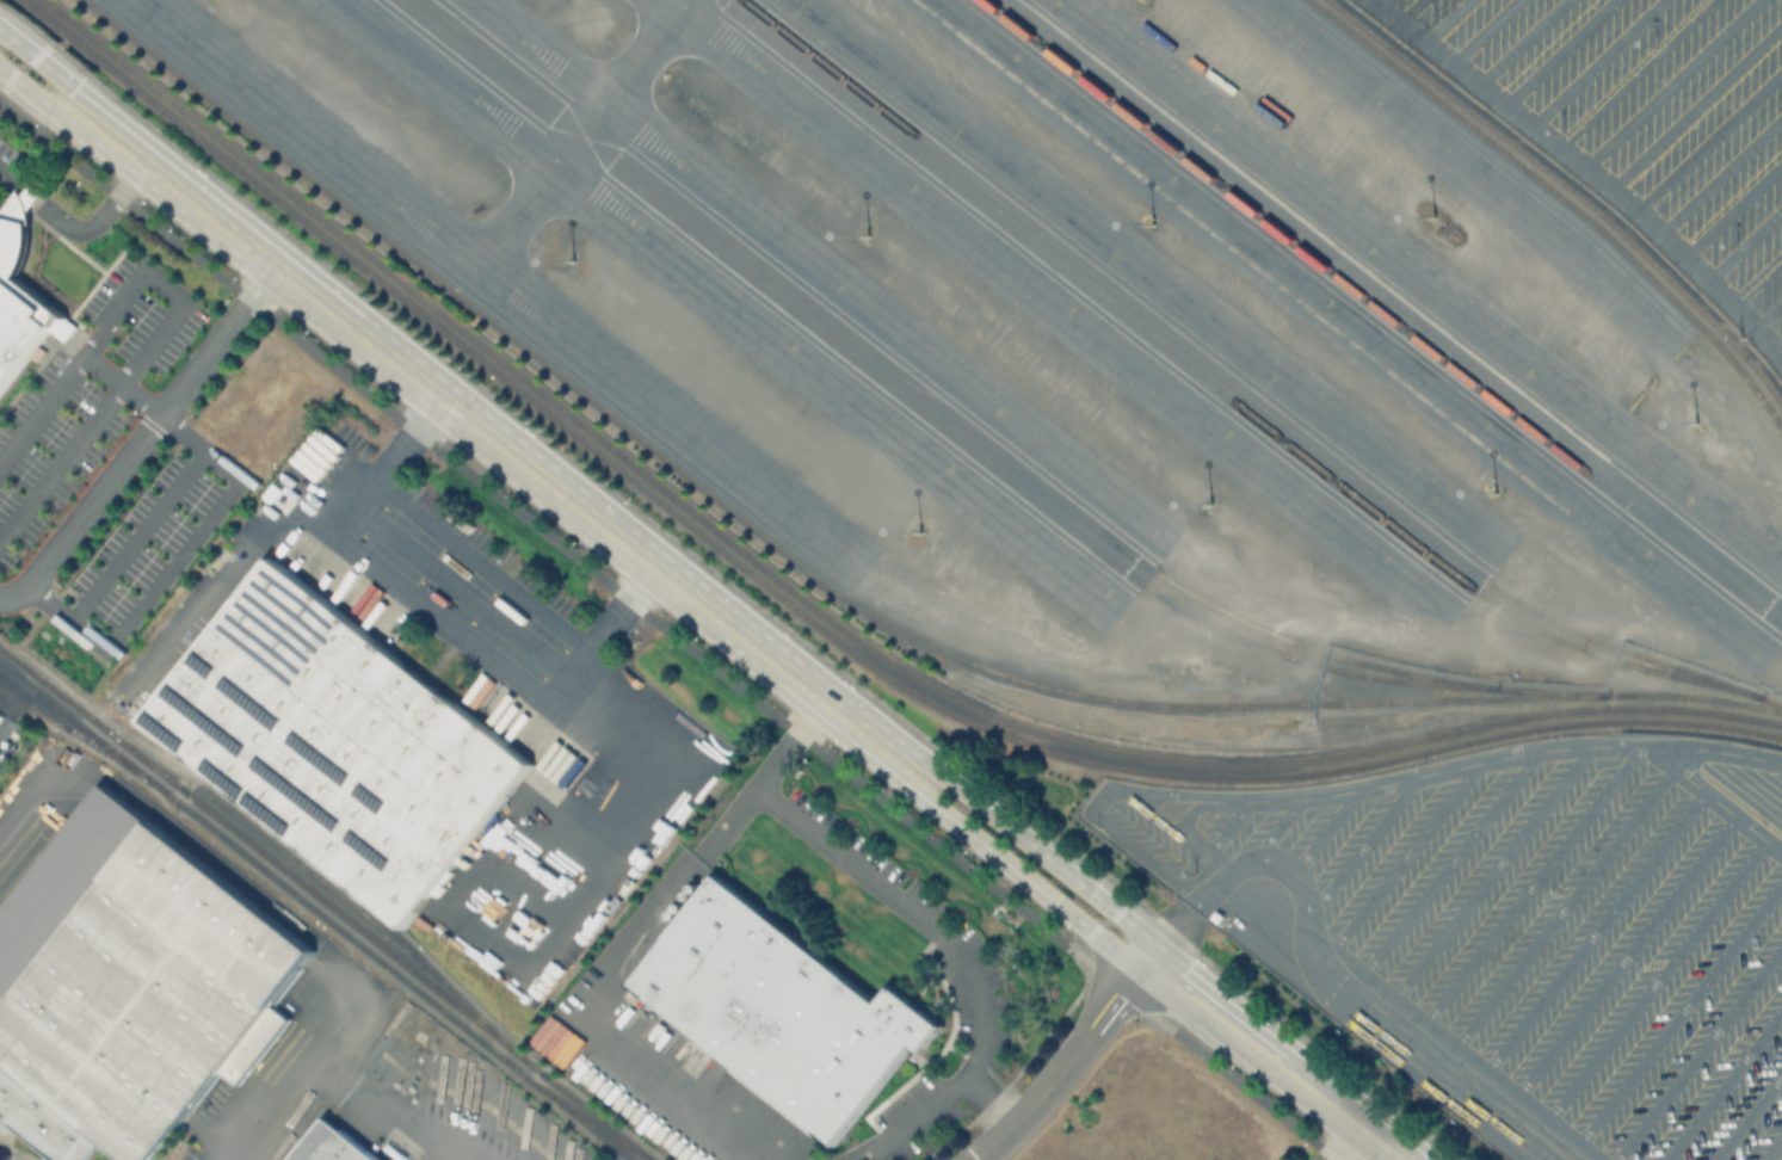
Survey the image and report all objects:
road: (1408, 8)
road: (1445, 19)
road: (1484, 30)
road: (1519, 39)
road: (1558, 50)
road: (1595, 61)
road: (45, 64)
road: (13, 72)
road: (1633, 72)
road: (1669, 81)
road: (36, 95)
road: (1696, 104)
road: (1708, 137)
road: (1589, 168)
road: (1720, 172)
railway: (1567, 189)
railway: (1561, 199)
road: (1732, 205)
road: (78, 229)
road: (1744, 240)
road: (205, 267)
road: (1757, 277)
road: (162, 285)
building: (21, 296)
railway: (1392, 306)
road: (1768, 309)
railway: (1382, 313)
road: (1780, 350)
road: (72, 369)
railway: (1219, 388)
railway: (1241, 389)
railway: (915, 406)
road: (428, 414)
railway: (973, 433)
road: (142, 437)
road: (499, 443)
road: (61, 462)
road: (380, 474)
road: (523, 516)
road: (137, 533)
parking lot: (148, 542)
road: (173, 560)
road: (476, 575)
road: (643, 584)
road: (224, 585)
railway: (838, 597)
road: (454, 606)
railway: (824, 617)
railway: (813, 627)
road: (596, 647)
building: (340, 743)
railway: (94, 745)
road: (761, 777)
road: (1363, 784)
road: (1719, 798)
road: (1191, 808)
road: (1229, 823)
road: (1275, 827)
road: (1327, 829)
road: (1182, 832)
road: (1362, 845)
road: (1044, 853)
road: (1270, 858)
road: (221, 859)
road: (1399, 859)
railway: (260, 869)
road: (1444, 870)
road: (1025, 877)
road: (1487, 880)
road: (984, 881)
road: (1521, 889)
railway: (326, 905)
road: (1560, 911)
railway: (369, 913)
road: (1095, 928)
road: (1592, 934)
road: (963, 957)
road: (1623, 957)
road: (1653, 980)
building: (146, 1004)
building: (784, 1013)
road: (1677, 1014)
road: (591, 1025)
road: (1698, 1053)
road: (1277, 1059)
road: (1068, 1061)
road: (328, 1067)
road: (1470, 1074)
road: (1724, 1085)
road: (992, 1100)
road: (1749, 1116)
railway: (574, 1117)
railway: (584, 1117)
road: (1345, 1140)
building: (333, 1147)
road: (1772, 1147)
road: (1331, 1158)

